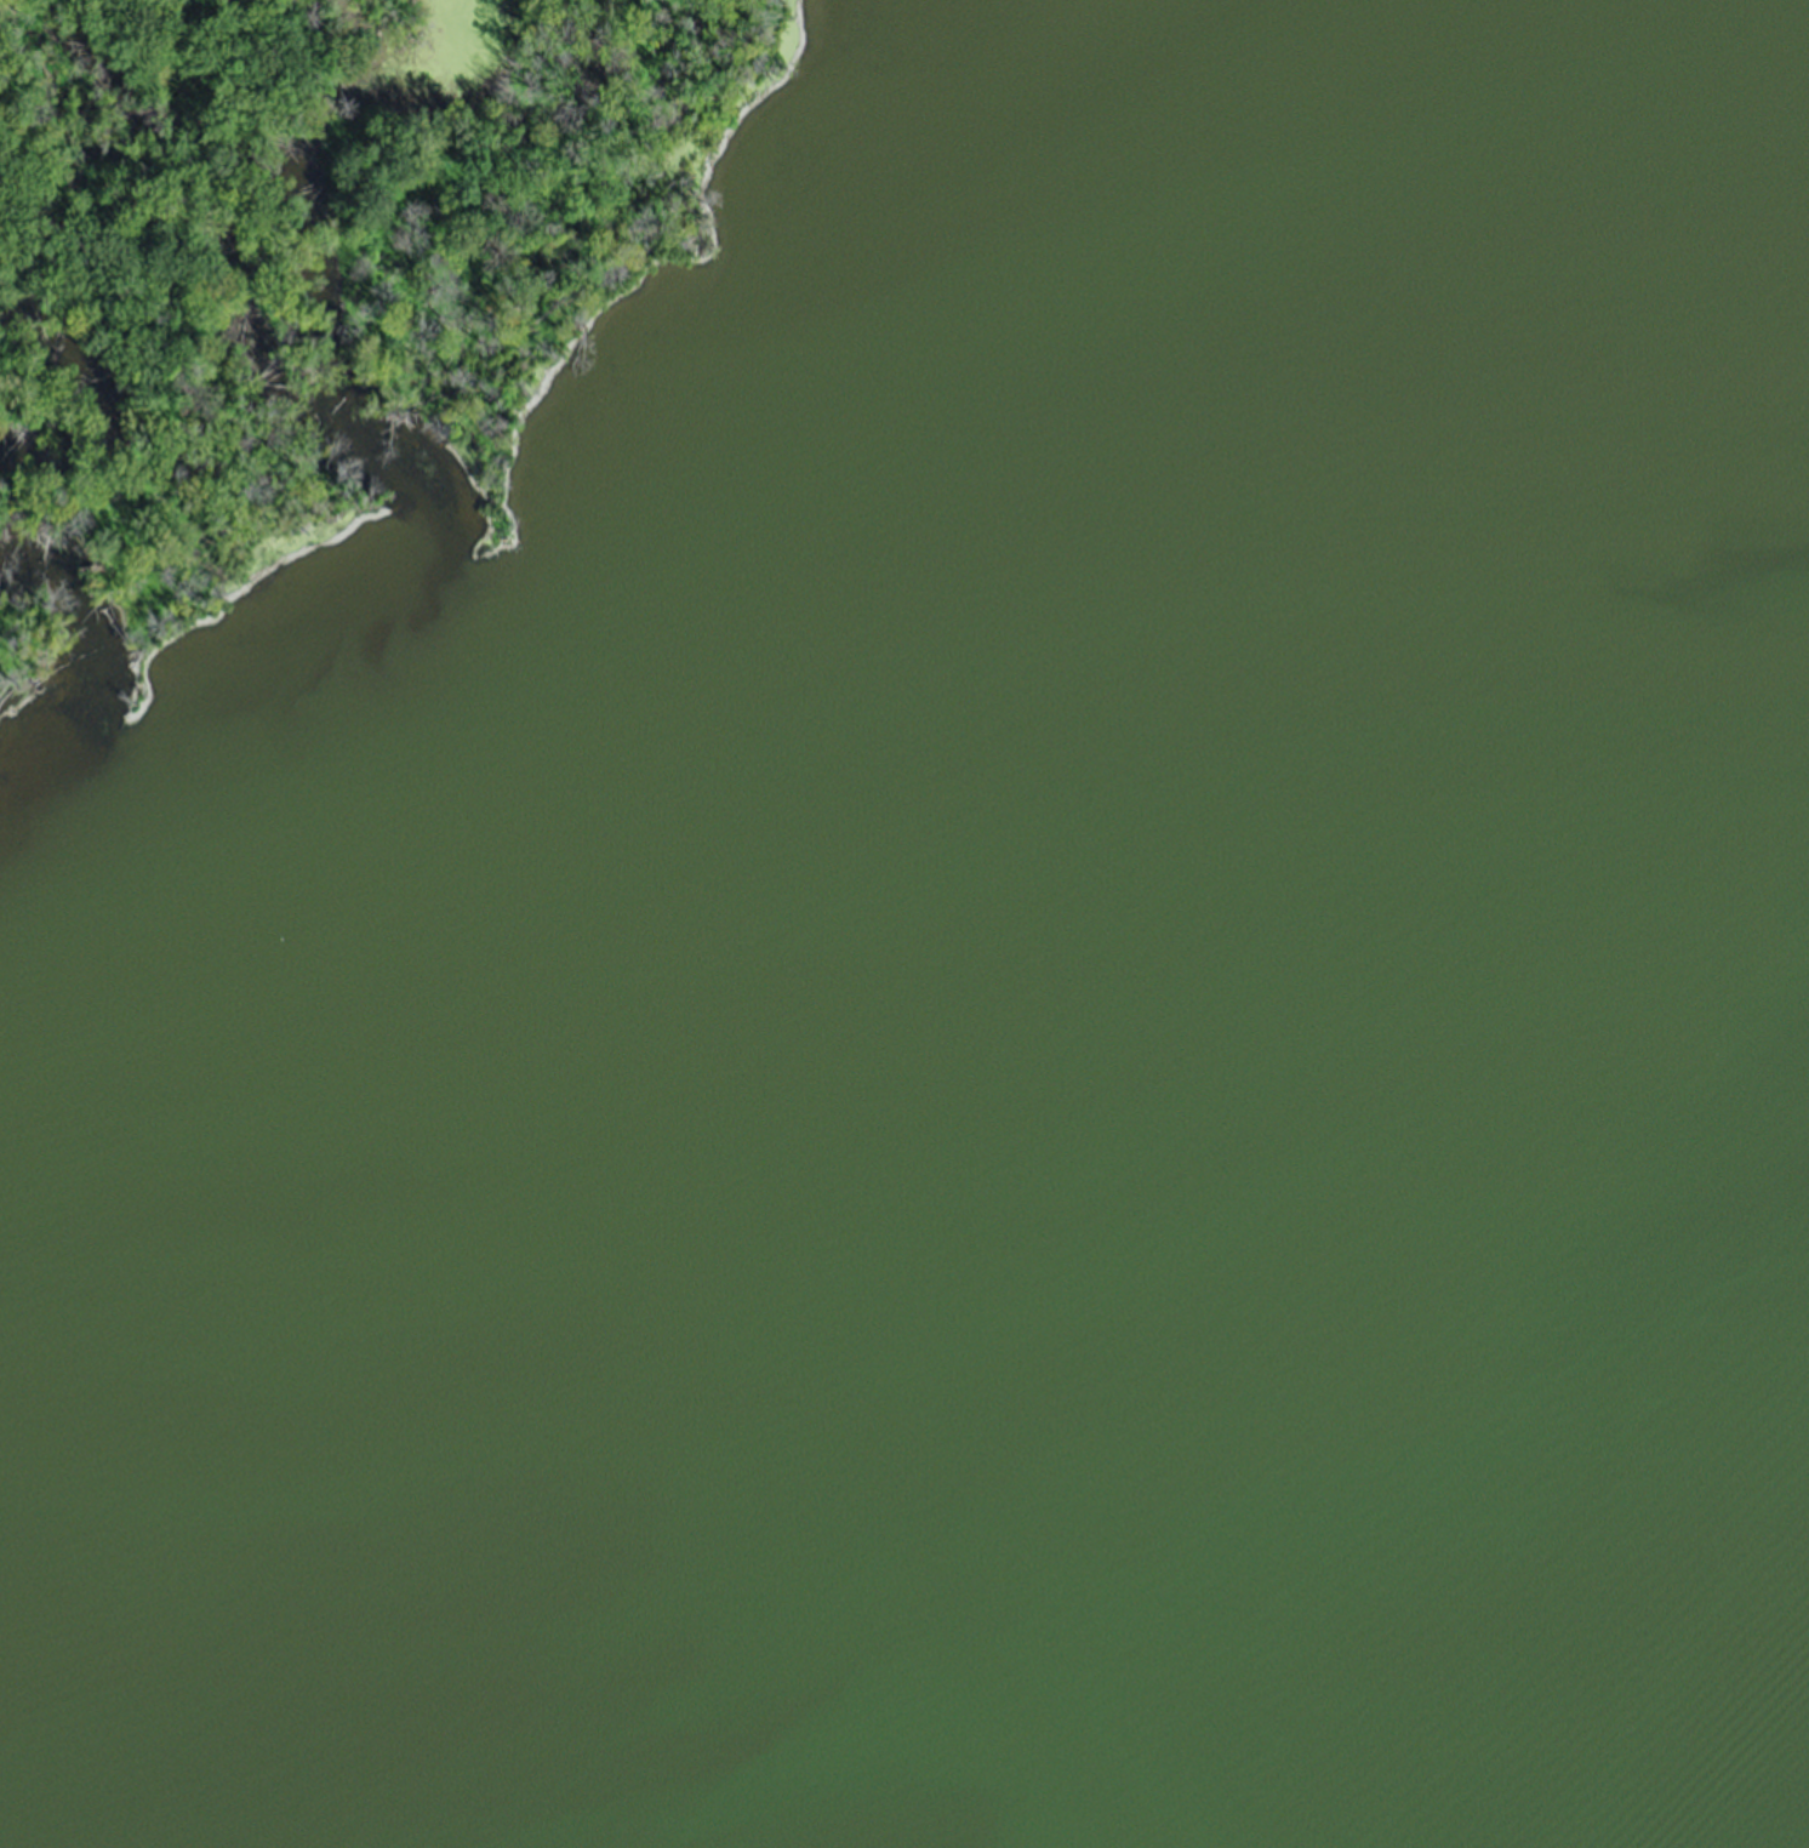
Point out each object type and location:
river: (81, 367)
river: (85, 685)

